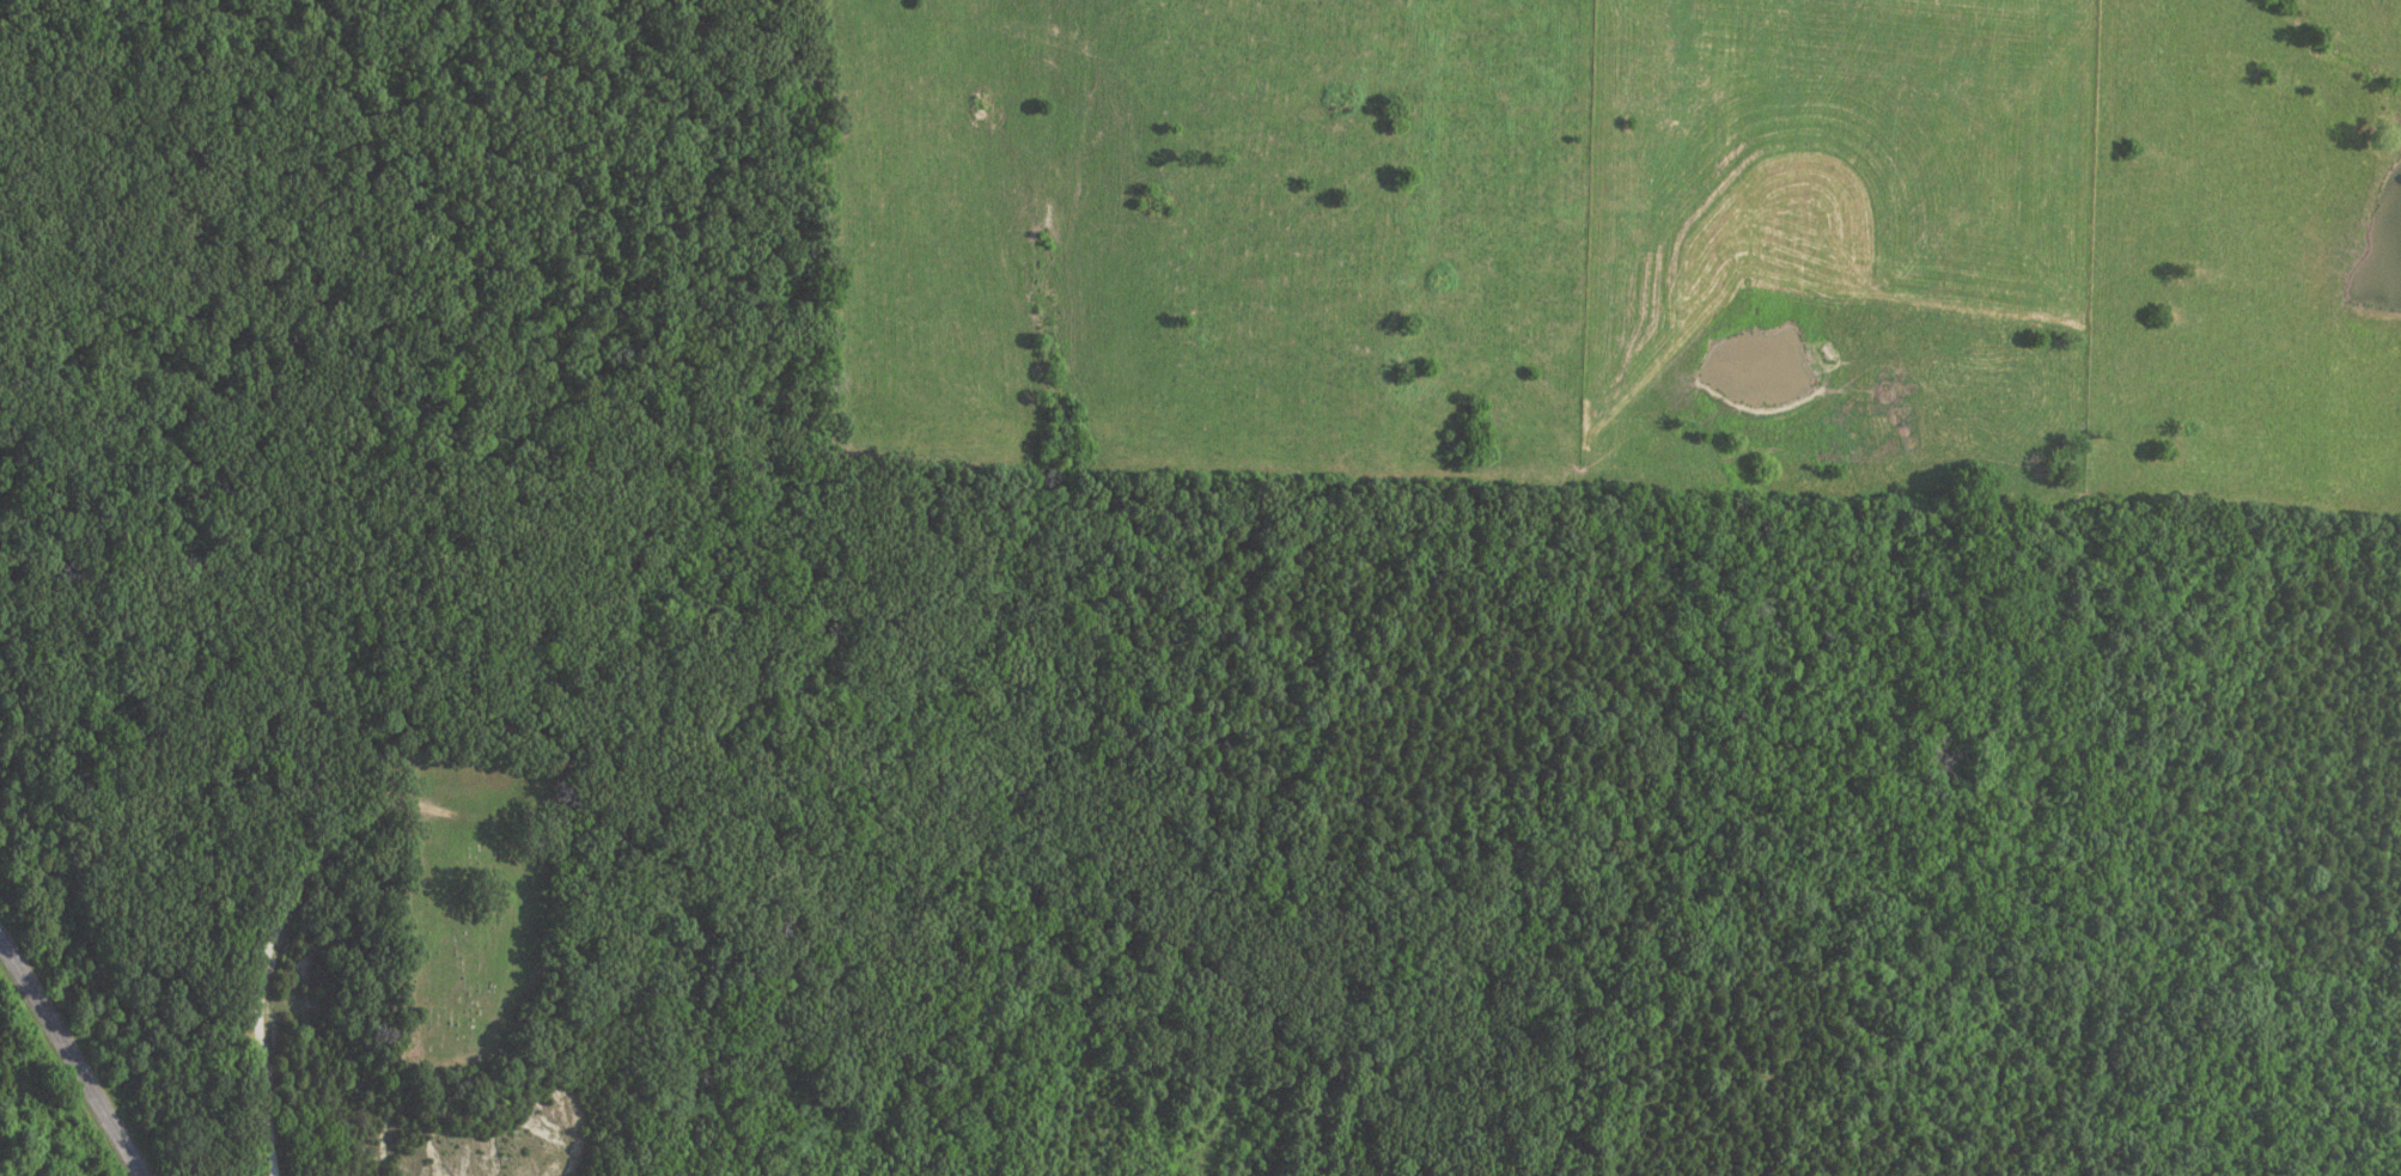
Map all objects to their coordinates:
park: (468, 925)
road: (264, 970)
road: (73, 1059)

